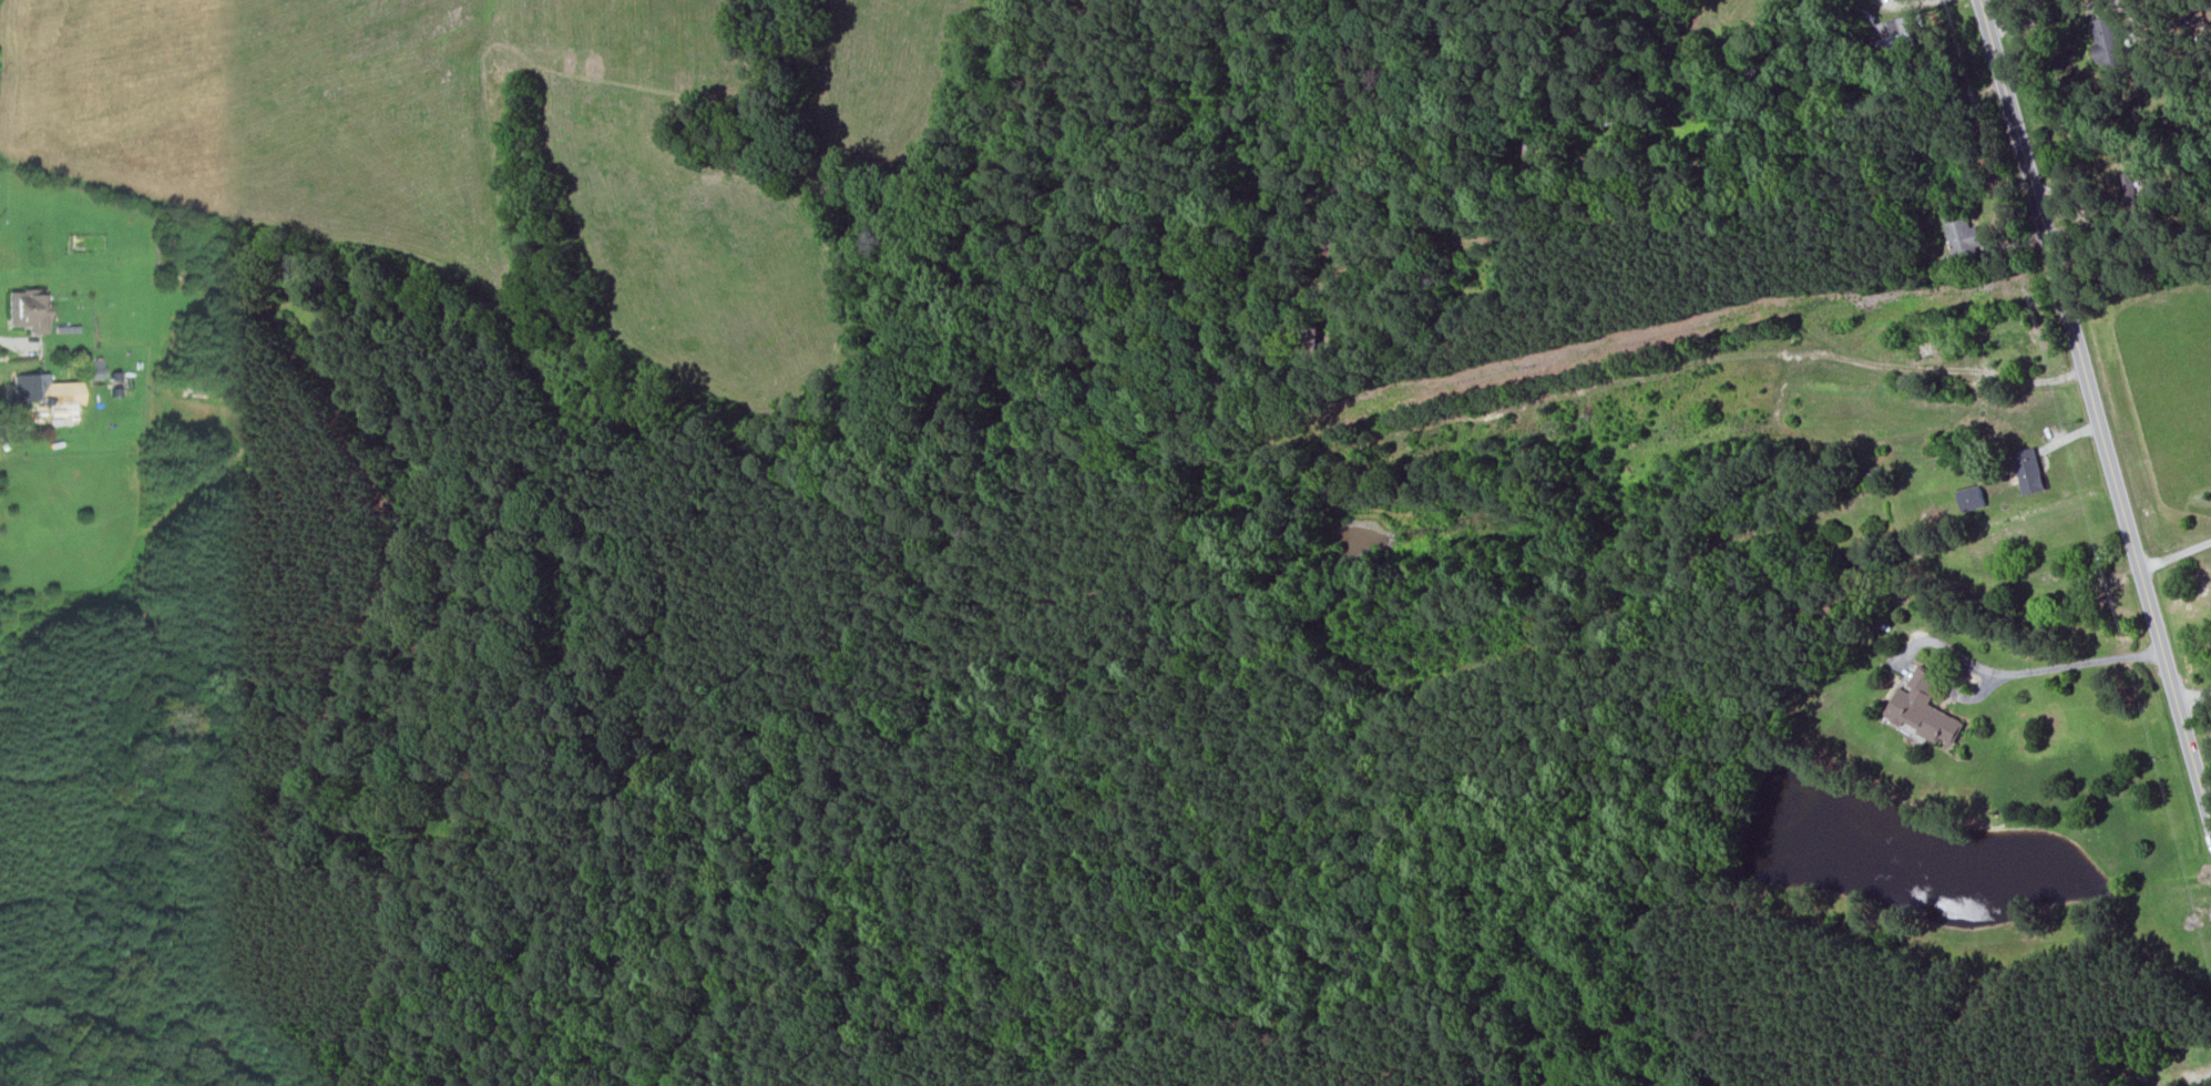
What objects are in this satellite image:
building: (2209, 11)
road: (2043, 19)
building: (1891, 35)
building: (2111, 43)
building: (2199, 185)
building: (2139, 195)
building: (1963, 235)
building: (29, 308)
building: (1923, 355)
building: (98, 369)
building: (34, 387)
road: (2095, 412)
building: (2029, 471)
building: (1972, 498)
road: (2174, 554)
road: (2074, 662)
road: (2193, 698)
building: (1924, 709)
road: (2203, 1076)

